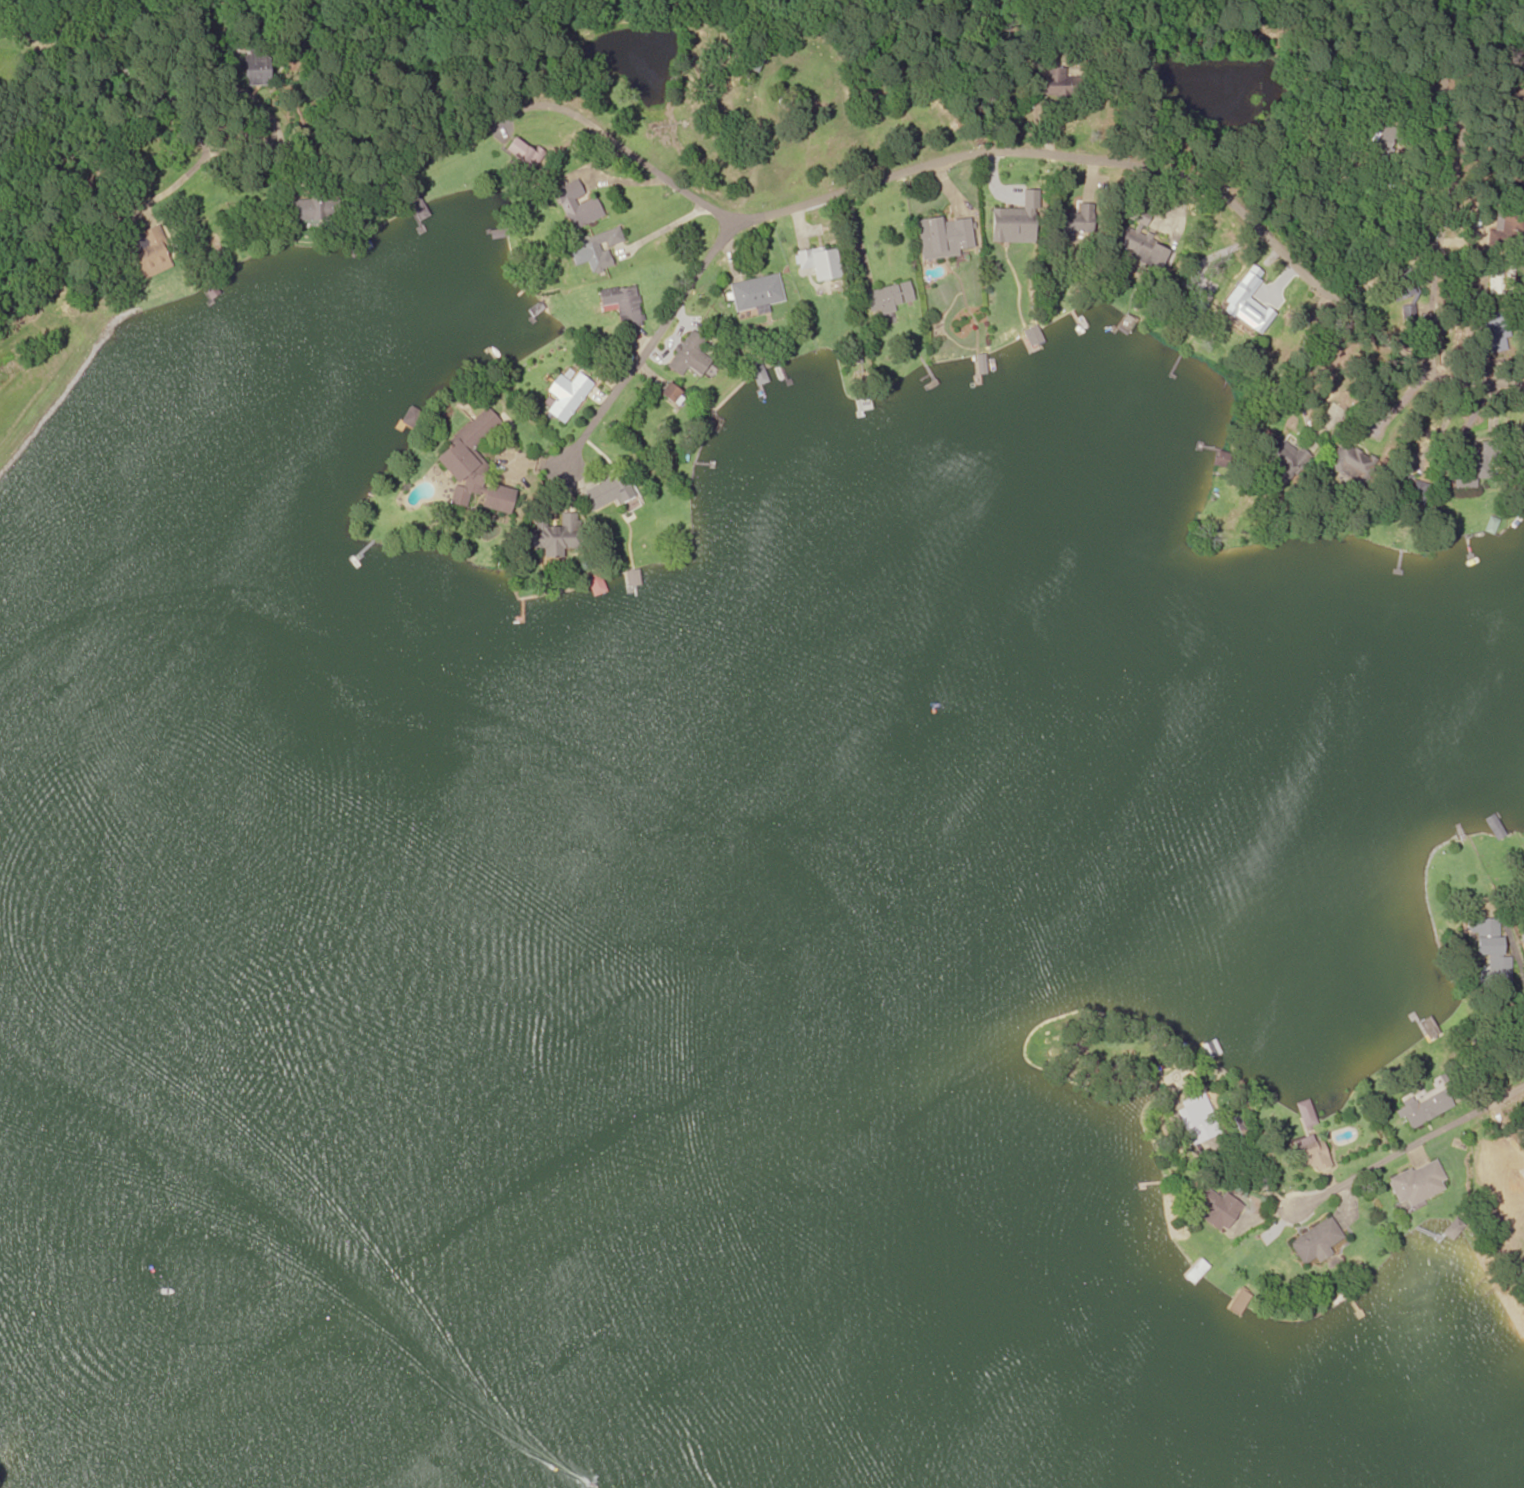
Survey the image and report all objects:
building: (259, 66)
building: (1056, 82)
building: (1380, 142)
building: (522, 154)
road: (1445, 162)
building: (576, 205)
road: (920, 209)
building: (306, 210)
building: (1067, 224)
building: (1512, 227)
building: (941, 238)
building: (1137, 241)
building: (598, 249)
building: (154, 253)
building: (817, 264)
building: (1498, 279)
building: (1397, 284)
building: (755, 293)
building: (886, 299)
building: (621, 305)
building: (1188, 317)
building: (1490, 332)
building: (1029, 336)
building: (688, 356)
building: (564, 395)
road: (573, 397)
building: (661, 407)
building: (1284, 457)
building: (465, 458)
building: (1347, 461)
building: (1462, 482)
building: (1405, 492)
building: (611, 494)
building: (495, 499)
building: (632, 578)
building: (594, 585)
building: (1492, 826)
building: (1483, 936)
building: (1523, 941)
building: (1423, 1108)
building: (1304, 1114)
building: (1194, 1119)
building: (1308, 1153)
building: (1511, 1170)
building: (1416, 1183)
road: (1385, 1186)
building: (1214, 1208)
building: (1314, 1242)
building: (1193, 1272)

